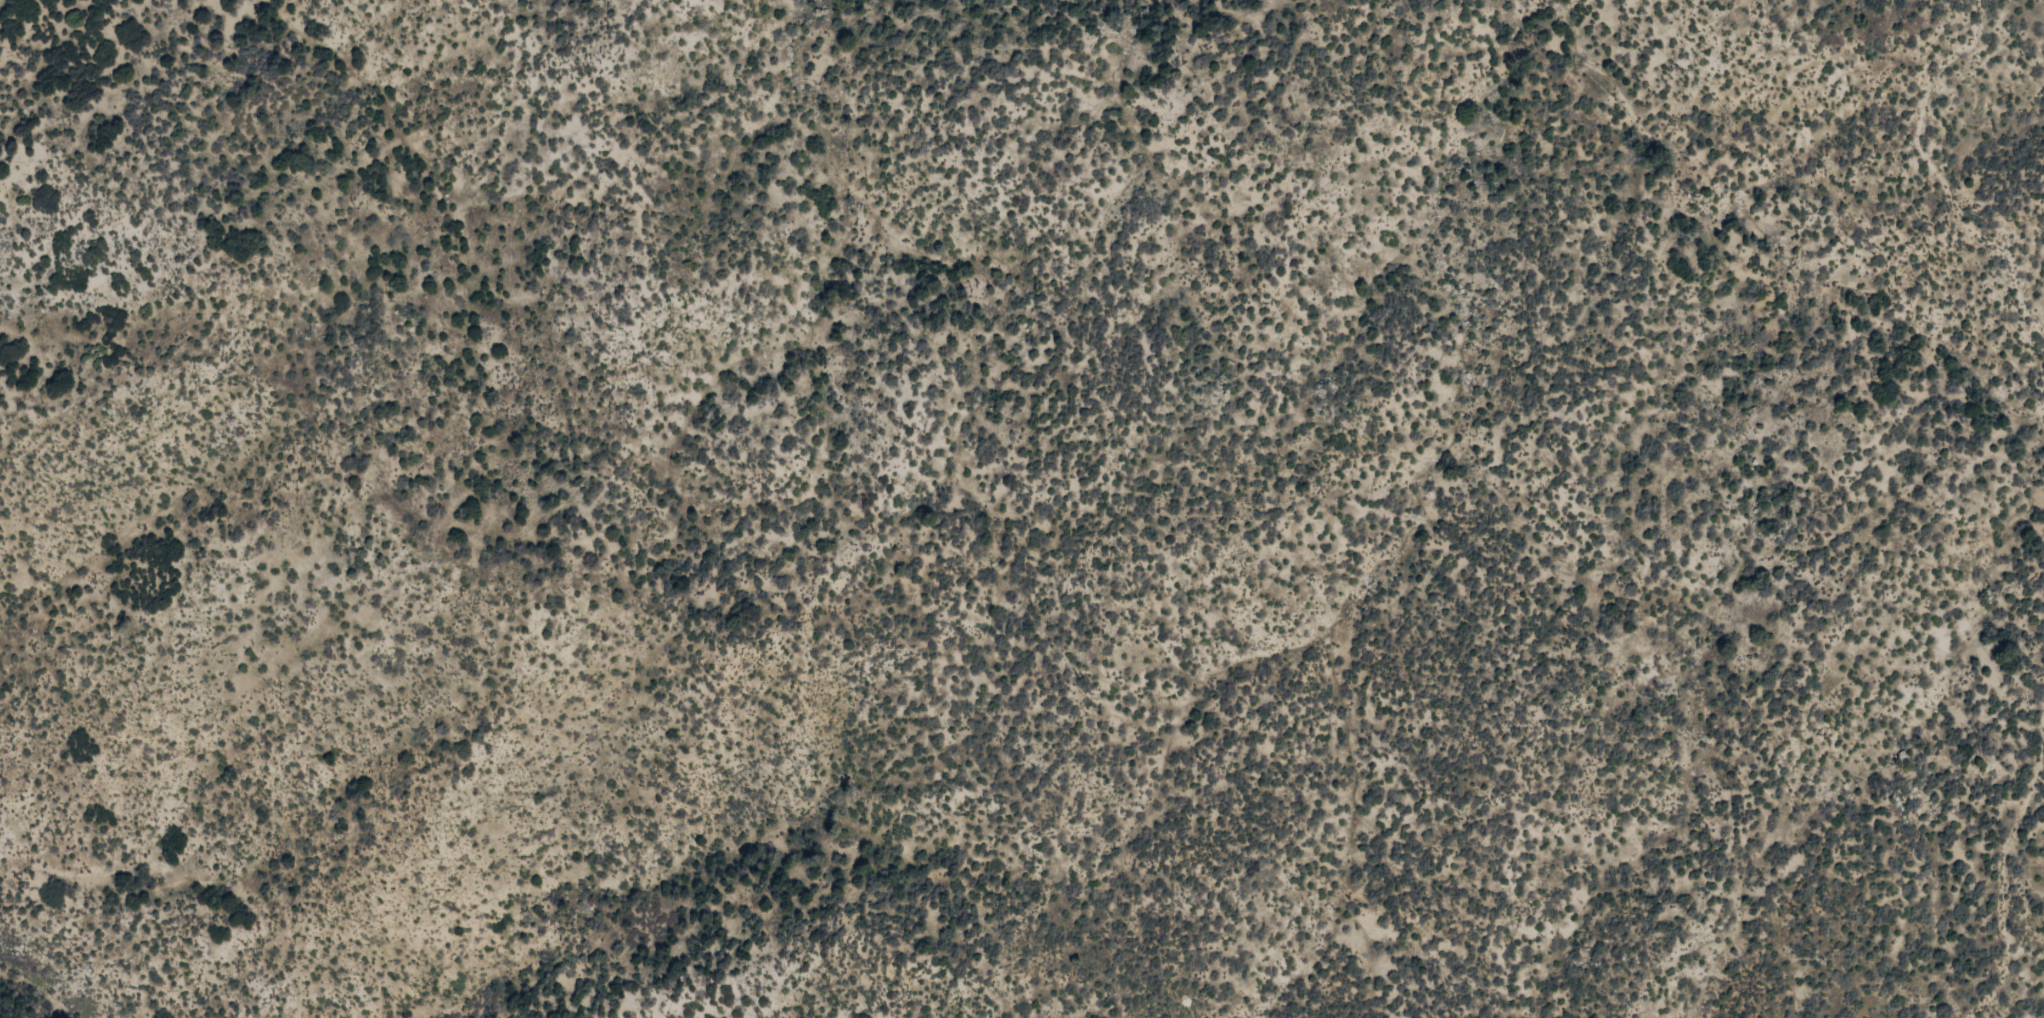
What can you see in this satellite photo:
road: (1981, 956)

